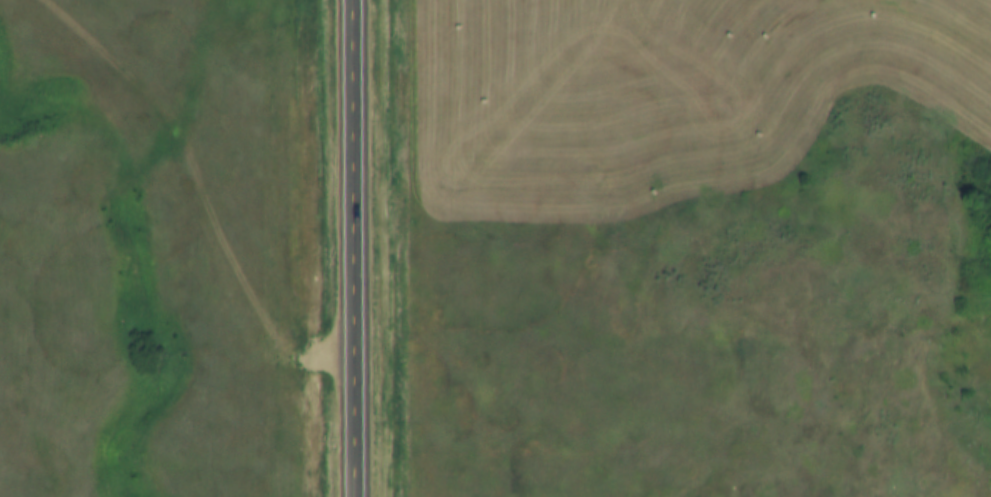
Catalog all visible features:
road: (204, 189)
road: (357, 248)

